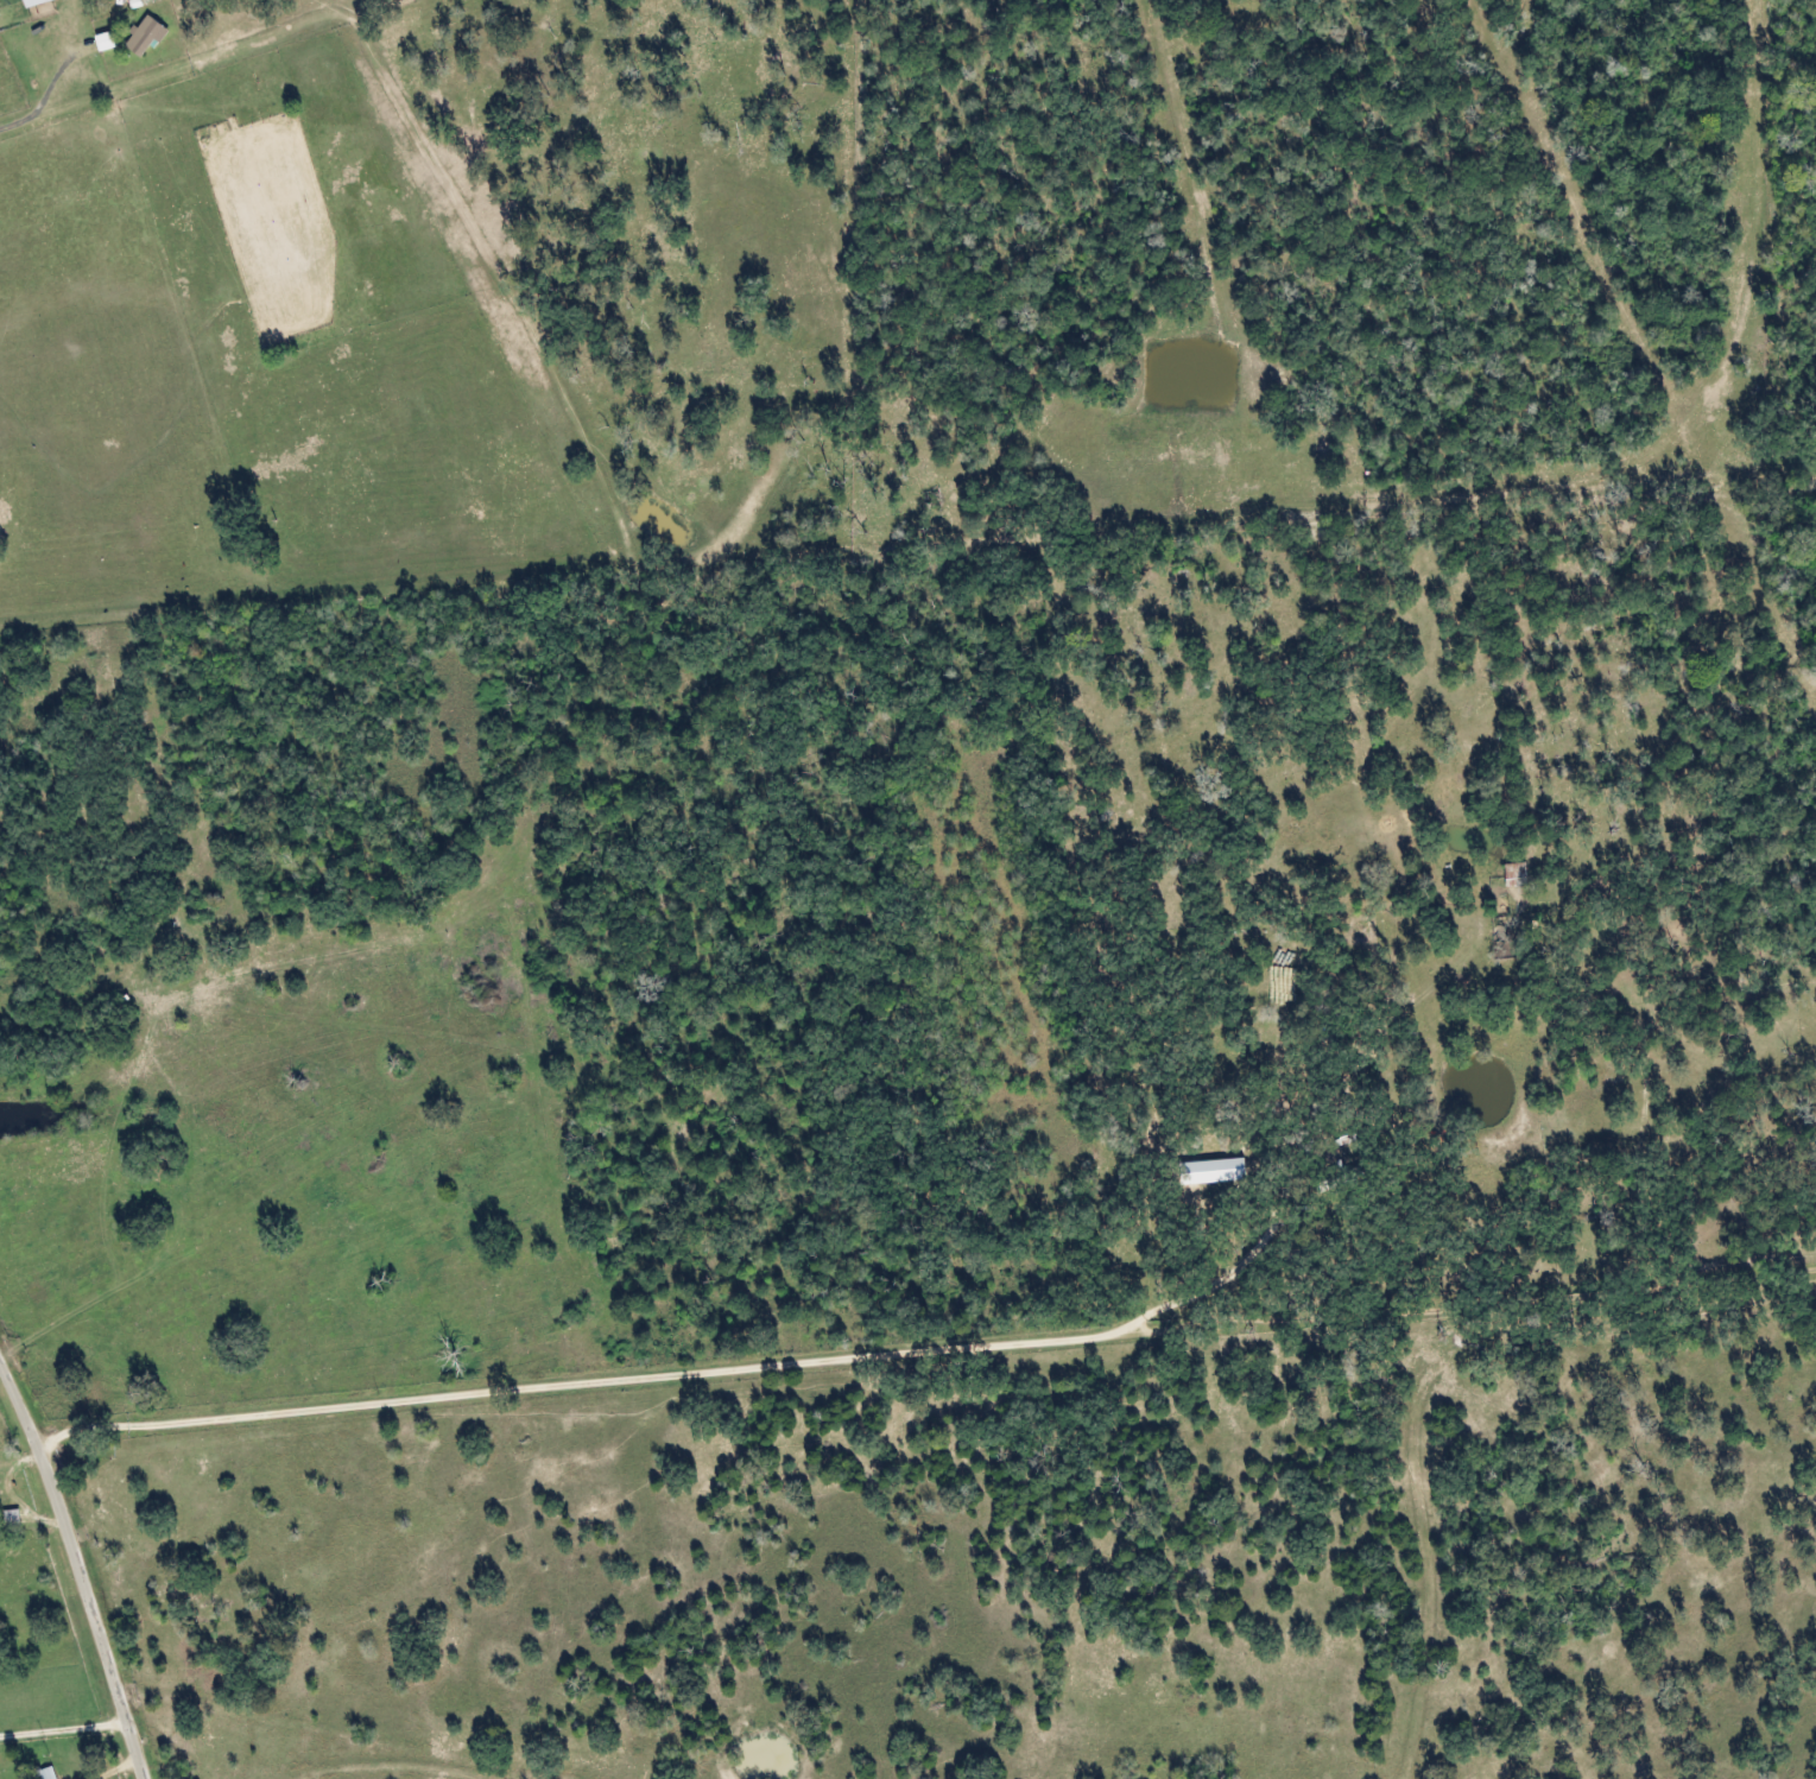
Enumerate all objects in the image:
building: (30, 2)
building: (141, 37)
building: (101, 40)
building: (1512, 874)
building: (1206, 1170)
road: (86, 1560)
building: (43, 1773)

